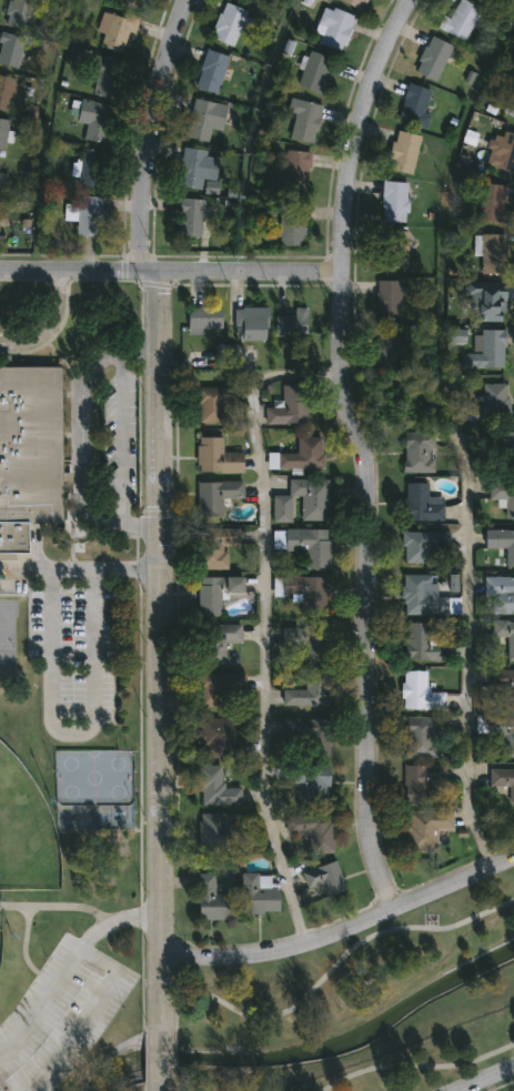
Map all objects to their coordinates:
building: (251, 0)
building: (132, 3)
building: (354, 3)
building: (19, 13)
building: (460, 20)
building: (229, 24)
building: (334, 29)
building: (117, 33)
building: (11, 49)
building: (433, 58)
building: (212, 71)
building: (316, 73)
building: (108, 78)
building: (6, 92)
building: (416, 105)
building: (511, 107)
building: (205, 119)
building: (97, 121)
building: (305, 122)
road: (44, 128)
building: (3, 132)
road: (249, 132)
road: (148, 133)
building: (502, 151)
building: (404, 152)
building: (198, 168)
building: (91, 169)
building: (296, 171)
building: (3, 183)
building: (394, 202)
building: (493, 204)
building: (90, 215)
building: (195, 218)
building: (1, 228)
building: (292, 229)
building: (394, 250)
building: (493, 254)
road: (78, 270)
road: (245, 272)
building: (389, 301)
building: (493, 303)
building: (205, 320)
road: (48, 324)
building: (251, 324)
building: (291, 324)
building: (389, 350)
building: (485, 350)
building: (231, 352)
building: (213, 403)
building: (492, 403)
building: (290, 406)
parking lot: (117, 440)
road: (454, 440)
road: (120, 441)
road: (80, 443)
building: (497, 447)
road: (359, 449)
building: (420, 453)
building: (30, 455)
building: (304, 455)
building: (218, 457)
building: (504, 496)
building: (215, 497)
building: (304, 501)
building: (422, 504)
building: (422, 545)
building: (310, 546)
building: (215, 547)
building: (501, 548)
road: (83, 572)
building: (216, 593)
building: (308, 593)
building: (423, 596)
building: (503, 596)
road: (262, 619)
building: (505, 635)
parking lot: (67, 642)
building: (216, 643)
building: (313, 643)
building: (423, 643)
road: (158, 650)
building: (222, 690)
building: (505, 690)
building: (310, 691)
building: (420, 693)
building: (504, 733)
road: (71, 736)
building: (308, 737)
building: (421, 738)
building: (219, 739)
building: (503, 781)
building: (311, 782)
building: (422, 785)
building: (216, 788)
building: (426, 829)
building: (222, 830)
building: (313, 832)
park: (23, 834)
building: (324, 880)
building: (260, 896)
park: (63, 897)
building: (212, 901)
road: (58, 909)
road: (112, 923)
road: (340, 932)
park: (0, 938)
road: (27, 942)
road: (321, 978)
road: (42, 1004)
park: (362, 1007)
parking lot: (60, 1016)
road: (88, 1016)
road: (177, 1057)
road: (157, 1058)
road: (417, 1068)
road: (484, 1078)
road: (177, 1087)
road: (157, 1088)

